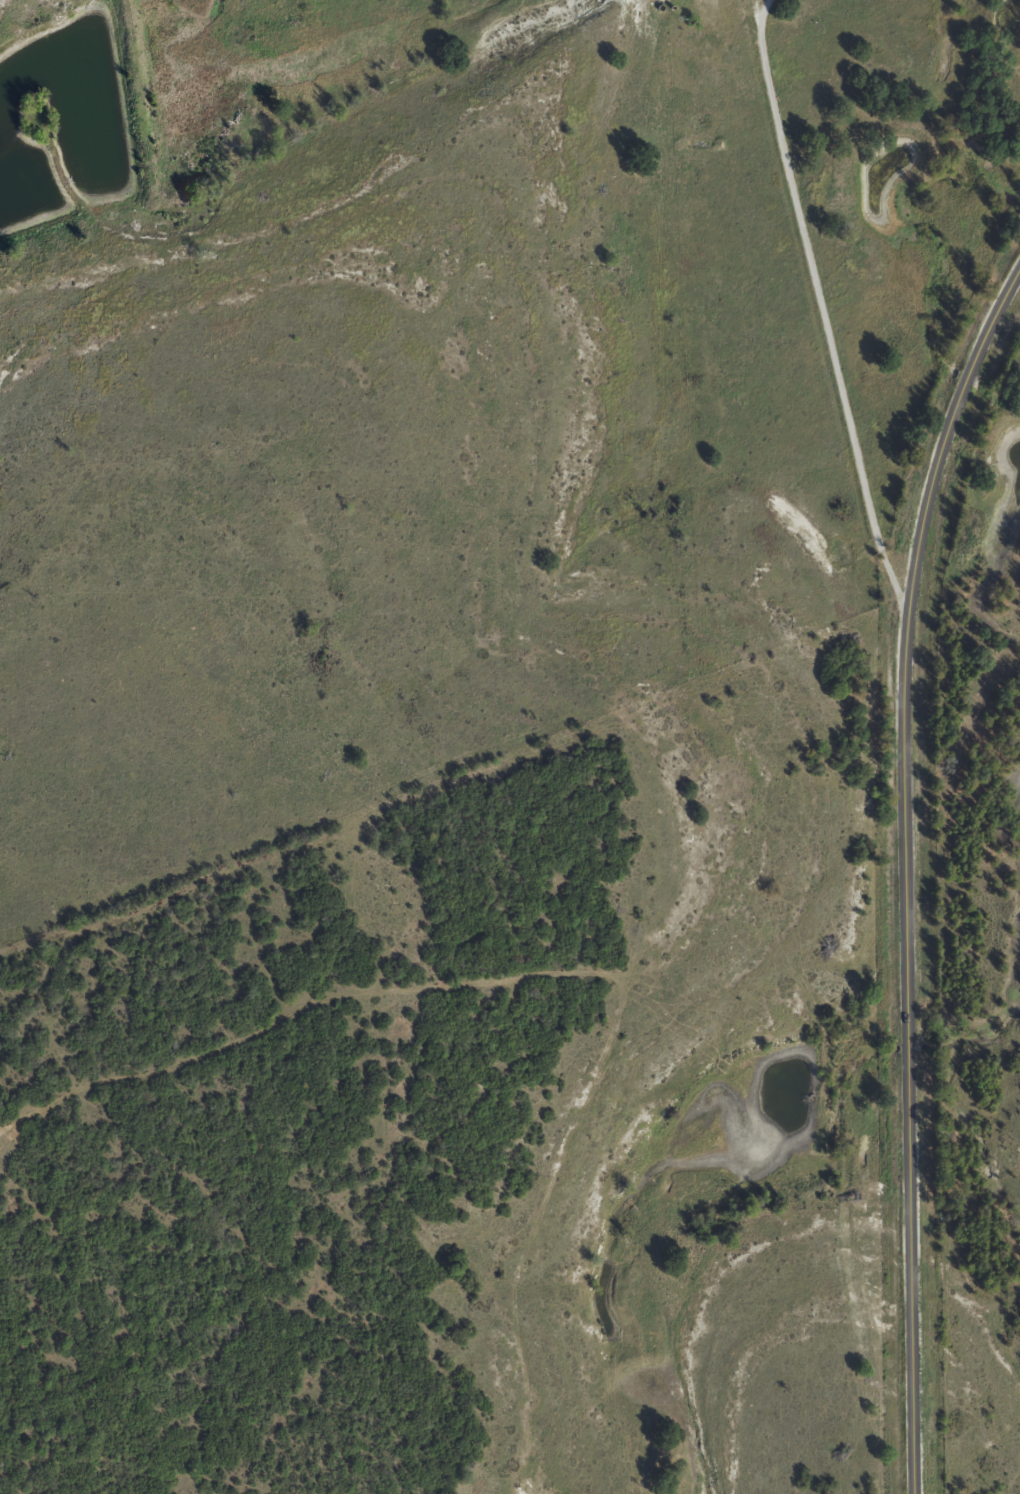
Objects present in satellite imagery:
road: (822, 309)
road: (908, 874)

